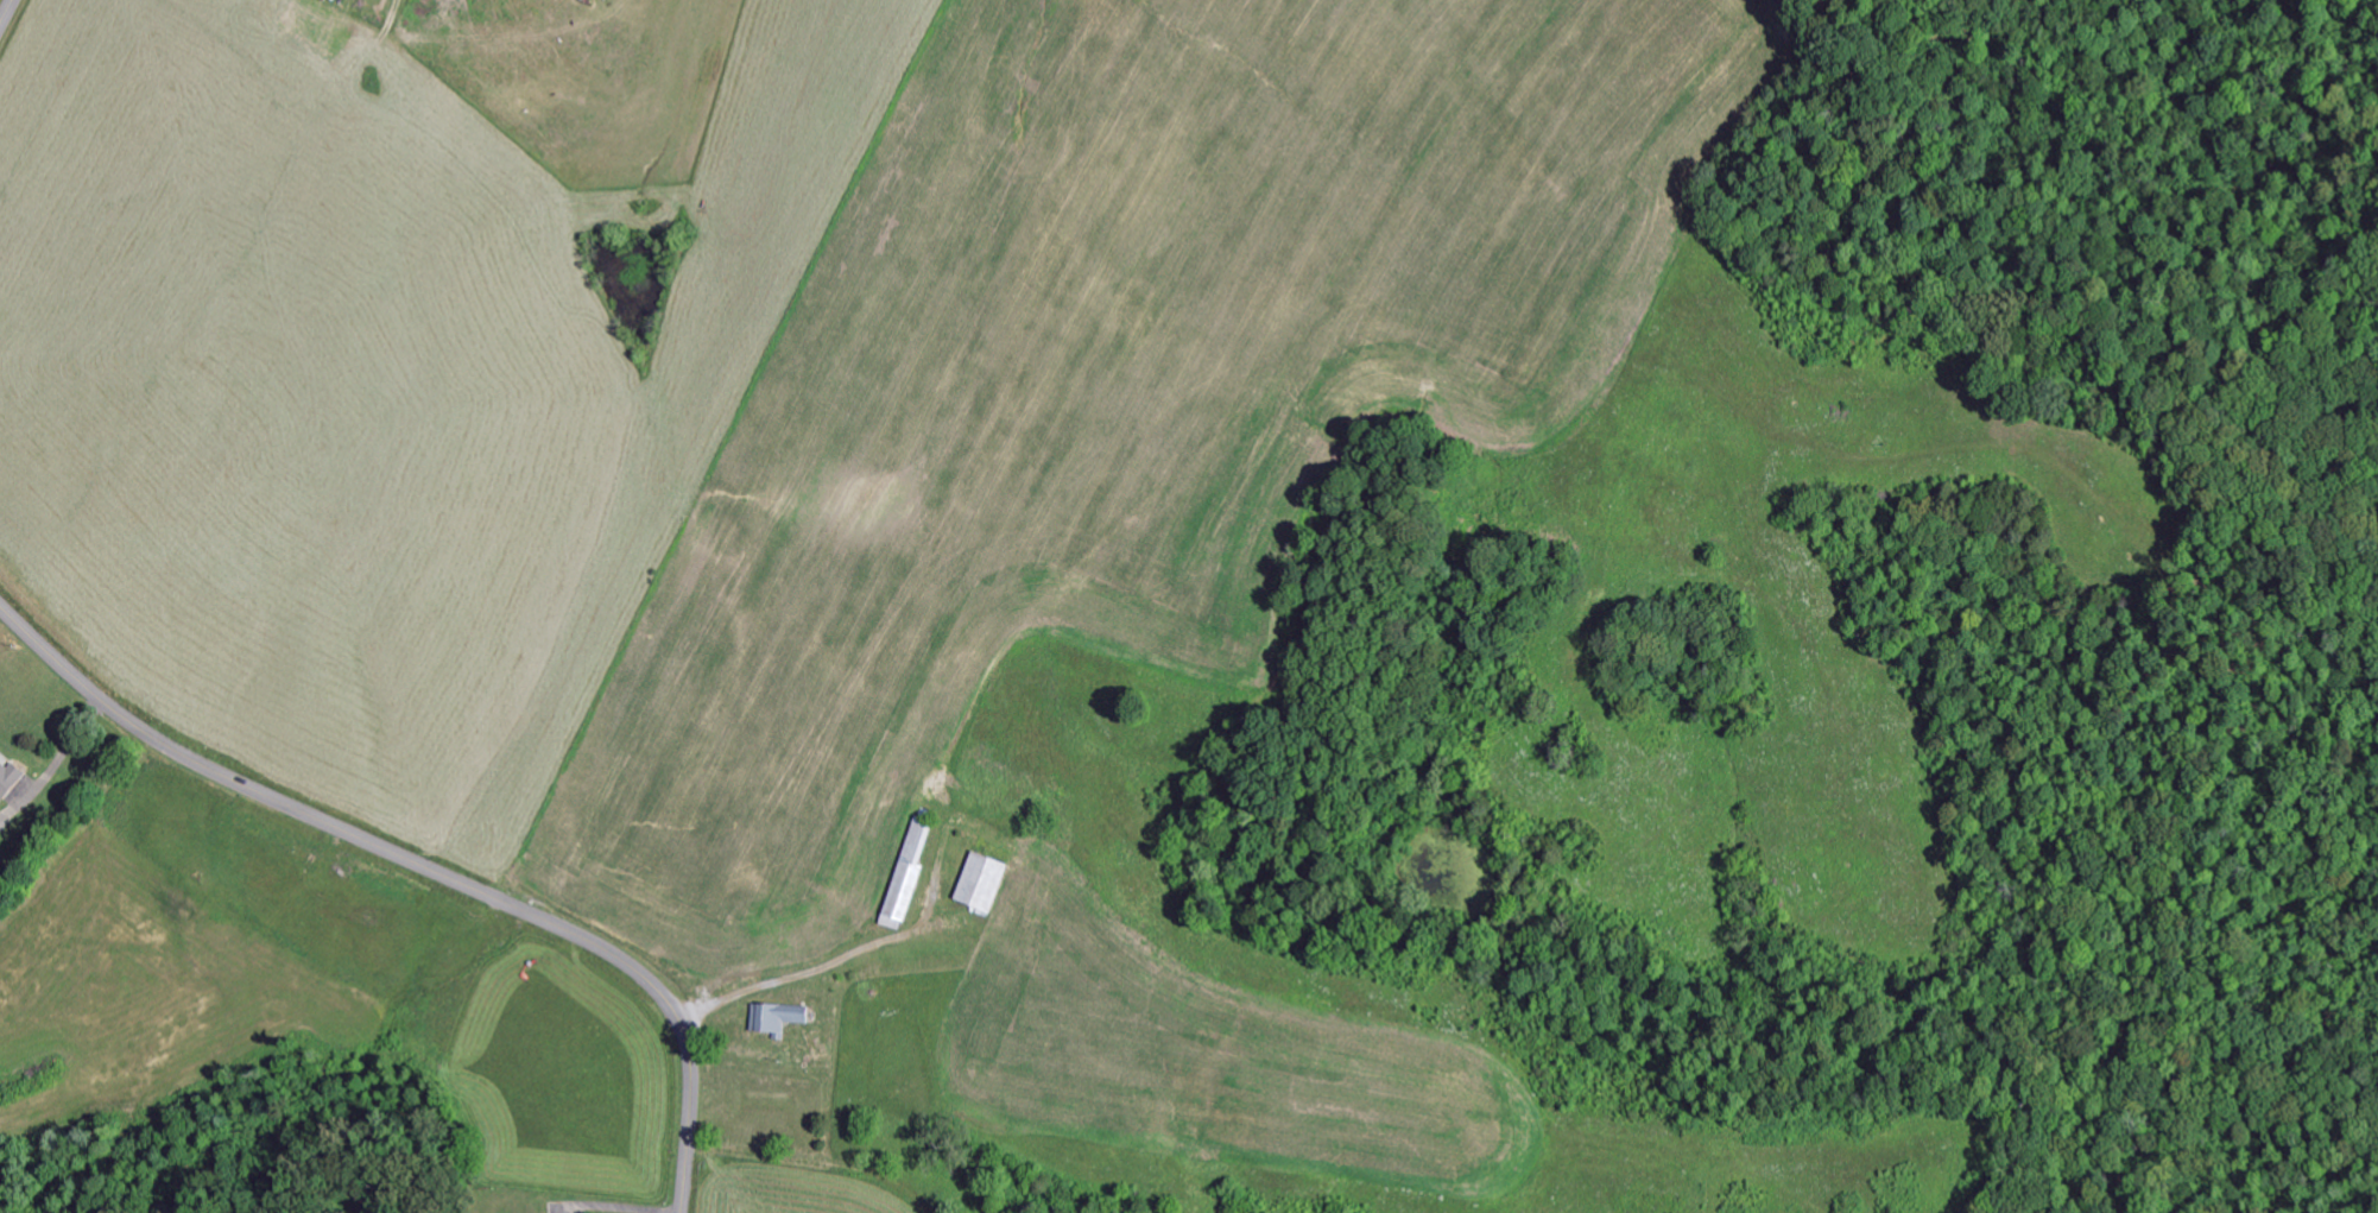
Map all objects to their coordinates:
road: (5, 10)
building: (7, 781)
road: (420, 865)
building: (900, 877)
building: (975, 885)
building: (770, 1021)

